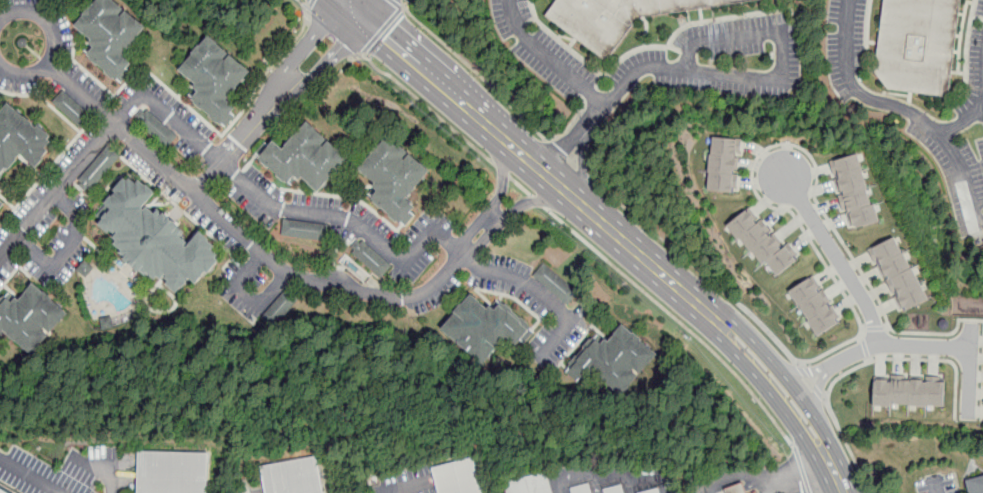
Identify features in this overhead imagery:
road: (311, 3)
road: (397, 4)
road: (307, 7)
road: (353, 10)
road: (374, 10)
building: (617, 18)
road: (720, 18)
road: (977, 18)
road: (383, 30)
road: (866, 34)
building: (114, 35)
traffic signals: (384, 38)
traffic signals: (345, 42)
road: (562, 42)
road: (54, 43)
road: (966, 43)
road: (304, 46)
building: (923, 46)
road: (631, 49)
road: (549, 58)
road: (324, 63)
road: (269, 68)
road: (477, 72)
road: (431, 77)
building: (216, 78)
road: (770, 82)
road: (590, 93)
building: (73, 108)
road: (429, 108)
road: (906, 109)
road: (596, 115)
road: (573, 120)
road: (961, 123)
building: (156, 127)
building: (21, 139)
road: (236, 144)
road: (788, 144)
road: (565, 149)
road: (520, 153)
building: (305, 157)
road: (568, 158)
building: (724, 164)
road: (582, 167)
building: (99, 168)
road: (502, 170)
building: (394, 177)
road: (521, 186)
road: (560, 187)
building: (854, 191)
road: (56, 193)
road: (497, 199)
building: (0, 202)
road: (540, 202)
road: (582, 206)
road: (280, 208)
road: (512, 210)
building: (304, 230)
road: (239, 234)
building: (156, 238)
building: (762, 242)
road: (67, 249)
road: (838, 257)
building: (371, 259)
road: (652, 266)
building: (87, 268)
road: (698, 269)
building: (898, 275)
building: (555, 283)
road: (540, 293)
road: (248, 295)
building: (813, 306)
building: (280, 308)
building: (30, 318)
road: (677, 319)
building: (485, 327)
road: (886, 327)
road: (863, 328)
road: (875, 328)
road: (861, 336)
road: (896, 344)
road: (865, 347)
building: (613, 359)
road: (869, 359)
road: (858, 365)
road: (801, 370)
road: (970, 370)
road: (800, 371)
road: (785, 380)
road: (810, 381)
road: (773, 391)
building: (909, 391)
road: (818, 392)
road: (817, 393)
road: (825, 399)
road: (982, 403)
road: (99, 468)
road: (801, 469)
road: (793, 473)
road: (35, 475)
building: (176, 475)
building: (293, 476)
road: (835, 476)
building: (460, 477)
road: (610, 477)
road: (734, 477)
building: (531, 484)
road: (559, 485)
road: (595, 485)
road: (630, 485)
road: (664, 485)
building: (976, 487)
road: (939, 488)
building: (581, 489)
building: (734, 489)
building: (4, 490)
building: (613, 490)
building: (654, 491)

